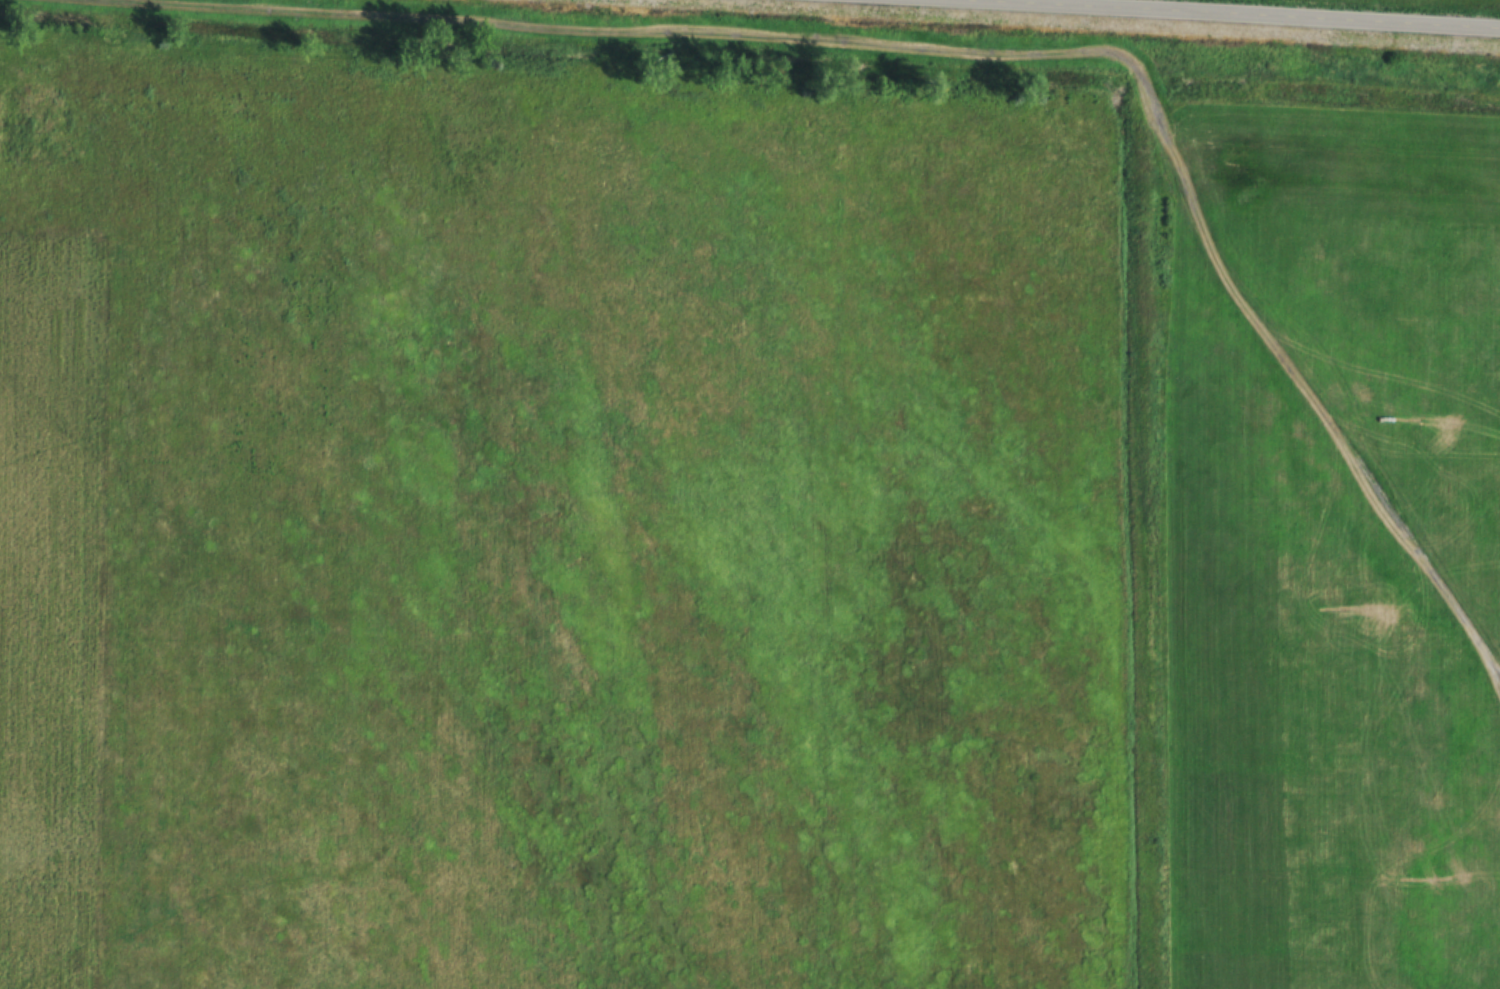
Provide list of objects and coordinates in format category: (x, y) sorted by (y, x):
road: (1234, 14)

